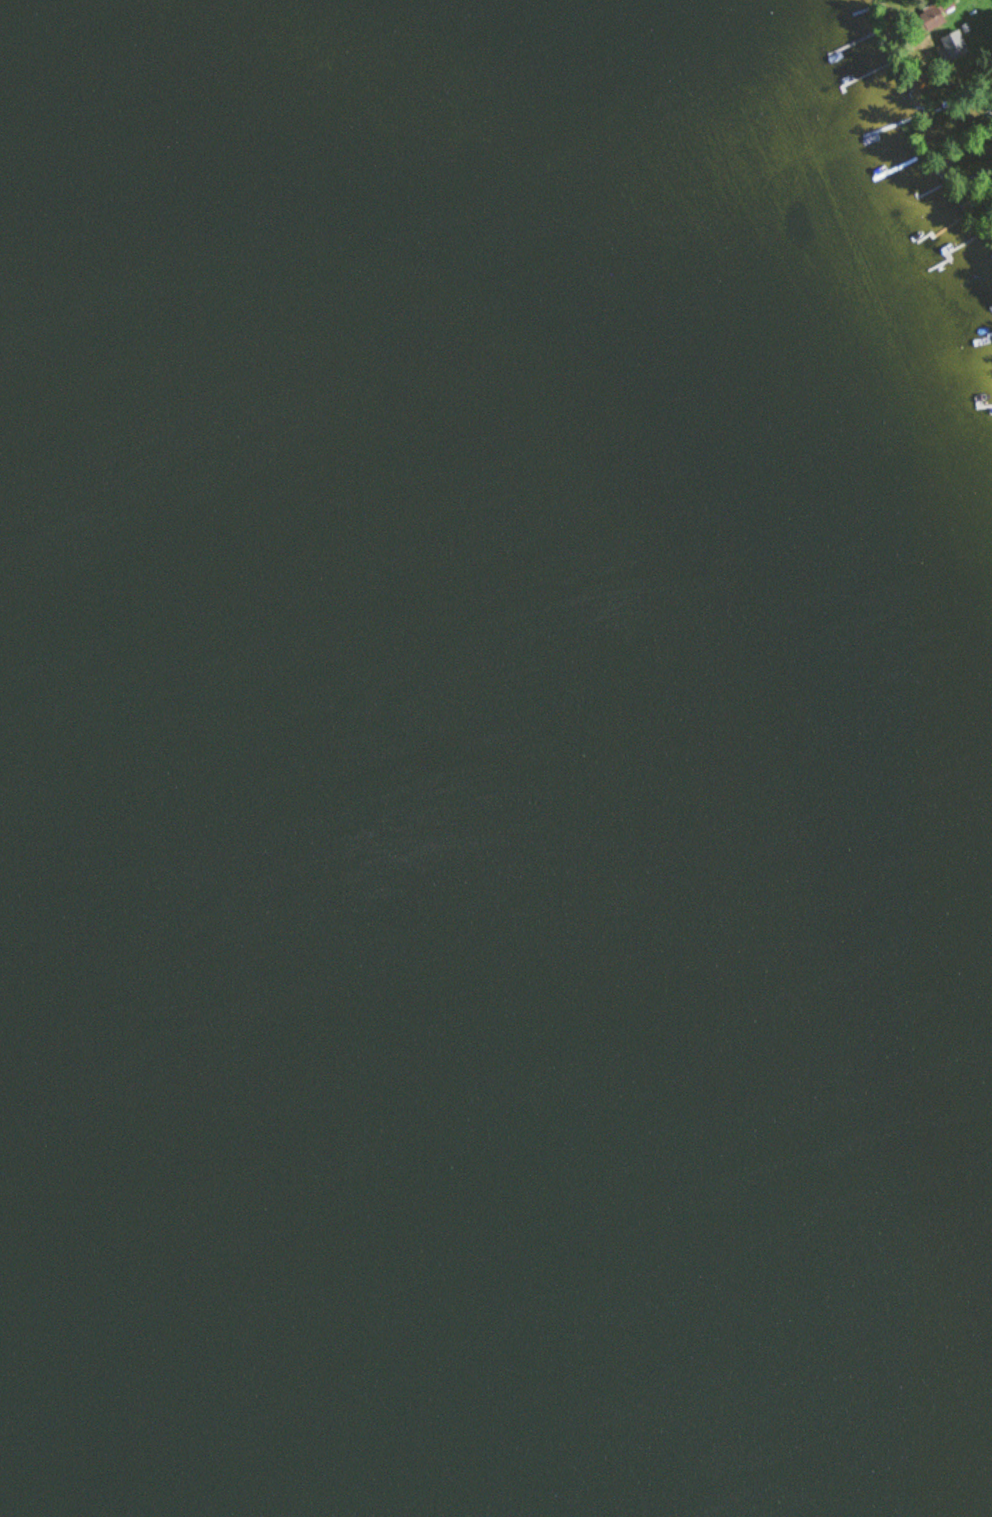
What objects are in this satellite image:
building: (930, 16)
building: (952, 44)
building: (991, 88)

